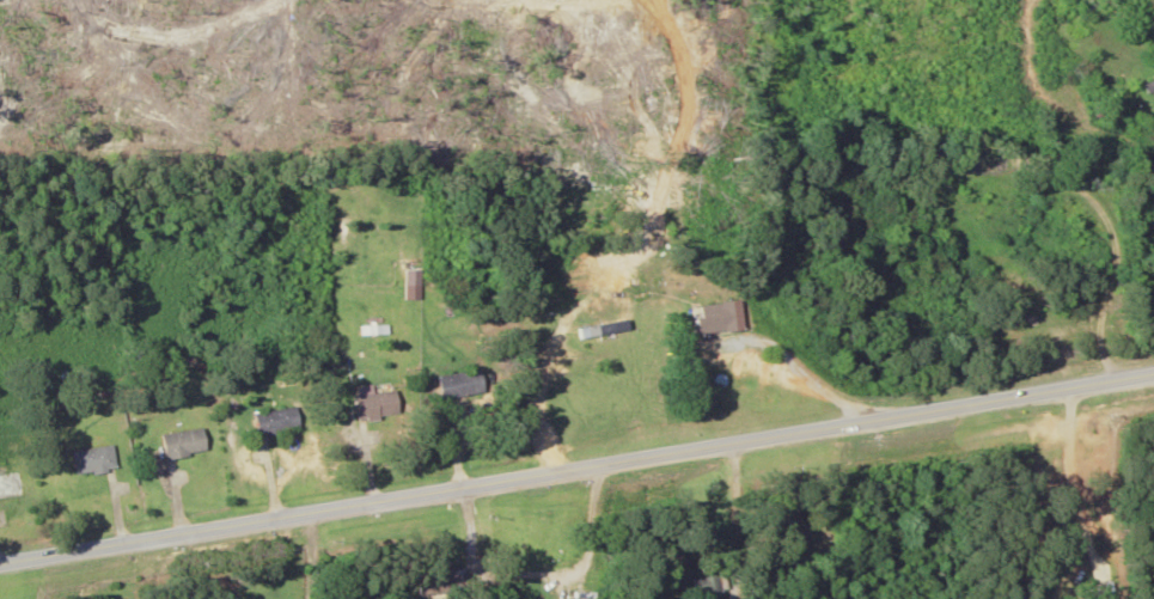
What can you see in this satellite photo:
building: (1144, 87)
building: (623, 280)
building: (713, 317)
building: (610, 329)
building: (462, 383)
building: (378, 403)
building: (279, 418)
building: (185, 441)
building: (94, 459)
road: (576, 469)
building: (11, 484)

